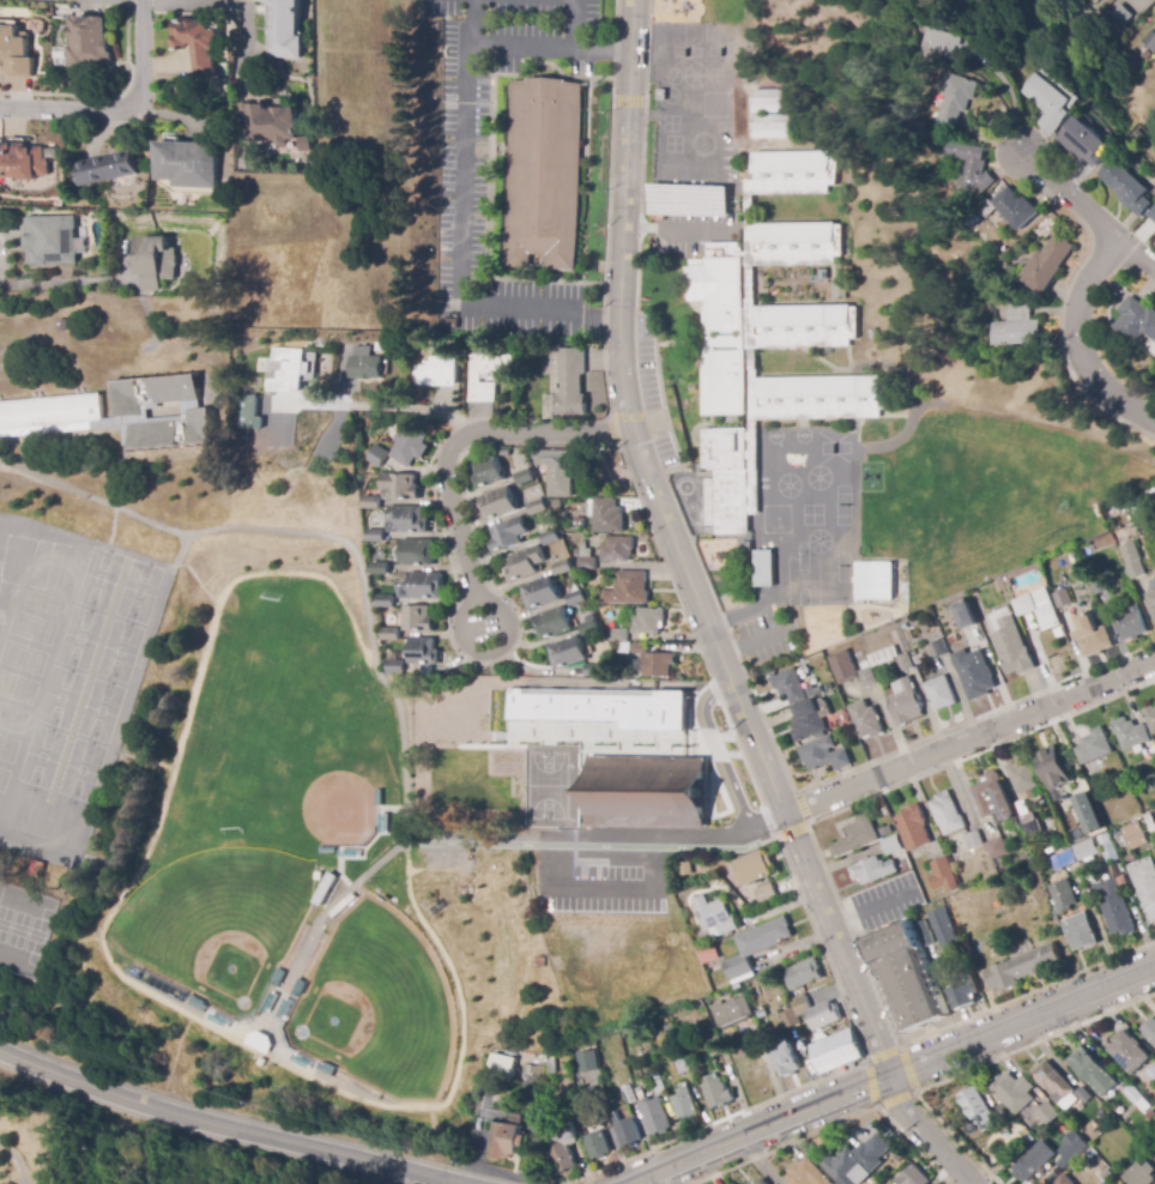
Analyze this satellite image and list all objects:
road: (216, 1)
building: (1089, 1)
building: (1120, 14)
road: (572, 24)
building: (284, 29)
building: (196, 41)
building: (1149, 41)
building: (90, 43)
building: (937, 46)
road: (549, 48)
building: (14, 53)
building: (1154, 60)
building: (661, 95)
building: (954, 99)
building: (766, 101)
road: (628, 103)
building: (1050, 103)
road: (123, 111)
building: (270, 123)
building: (769, 125)
building: (1083, 141)
building: (22, 161)
building: (186, 163)
building: (970, 167)
building: (107, 168)
building: (540, 174)
building: (1125, 187)
building: (1015, 207)
building: (986, 209)
road: (1081, 209)
building: (658, 211)
building: (1153, 215)
road: (461, 232)
building: (50, 240)
building: (155, 261)
building: (1004, 262)
building: (1046, 265)
road: (65, 279)
building: (839, 289)
building: (1136, 320)
building: (447, 324)
building: (1014, 325)
building: (768, 337)
road: (1082, 338)
building: (363, 363)
building: (285, 370)
building: (436, 370)
building: (484, 374)
building: (563, 382)
road: (386, 405)
road: (663, 406)
building: (117, 413)
building: (248, 413)
road: (655, 415)
road: (625, 416)
road: (611, 431)
road: (458, 435)
building: (409, 446)
building: (504, 453)
building: (375, 457)
building: (556, 471)
building: (486, 473)
building: (524, 476)
building: (398, 487)
building: (1130, 502)
building: (370, 503)
building: (497, 505)
building: (556, 505)
building: (537, 507)
building: (604, 515)
building: (407, 519)
building: (574, 530)
building: (507, 534)
building: (375, 536)
building: (549, 537)
building: (1118, 540)
building: (746, 546)
building: (616, 549)
building: (416, 552)
road: (678, 552)
building: (583, 558)
building: (1131, 561)
building: (522, 563)
building: (562, 568)
building: (763, 568)
building: (380, 569)
building: (873, 580)
building: (1097, 585)
building: (424, 586)
building: (628, 590)
building: (539, 593)
building: (574, 598)
building: (1063, 599)
road: (485, 600)
building: (1034, 600)
building: (1151, 600)
building: (386, 602)
building: (964, 614)
building: (416, 618)
building: (647, 621)
building: (551, 623)
building: (903, 624)
building: (587, 627)
building: (1130, 627)
building: (973, 630)
building: (391, 635)
building: (617, 635)
building: (908, 636)
building: (1091, 636)
road: (752, 640)
building: (955, 641)
building: (939, 647)
building: (1012, 648)
building: (422, 652)
building: (567, 653)
road: (456, 656)
building: (890, 659)
building: (653, 662)
building: (395, 667)
building: (842, 667)
building: (594, 671)
building: (866, 675)
building: (976, 677)
building: (791, 687)
building: (939, 693)
road: (706, 701)
building: (905, 702)
building: (598, 709)
building: (810, 719)
building: (1150, 719)
building: (867, 724)
building: (1131, 735)
road: (969, 736)
building: (1093, 747)
road: (980, 751)
building: (823, 755)
building: (1052, 767)
building: (1075, 777)
building: (1021, 778)
building: (1150, 783)
building: (1103, 786)
building: (646, 791)
building: (992, 798)
park: (334, 804)
road: (799, 808)
building: (947, 814)
building: (1090, 816)
building: (1023, 820)
road: (767, 822)
building: (1149, 823)
building: (911, 828)
building: (1132, 828)
road: (790, 829)
building: (884, 830)
building: (855, 835)
road: (705, 839)
building: (1136, 839)
building: (973, 840)
building: (891, 845)
building: (996, 848)
building: (1094, 848)
building: (1129, 858)
park: (285, 859)
building: (1062, 860)
building: (684, 868)
building: (754, 868)
building: (872, 870)
building: (943, 876)
building: (1144, 886)
building: (766, 893)
building: (1063, 896)
building: (1111, 905)
building: (714, 917)
building: (941, 925)
road: (857, 932)
building: (1080, 932)
building: (755, 946)
road: (820, 949)
building: (996, 952)
building: (707, 954)
park: (220, 955)
building: (539, 962)
building: (1022, 968)
building: (907, 971)
building: (803, 974)
road: (1026, 992)
building: (964, 993)
building: (731, 1011)
building: (816, 1013)
building: (761, 1014)
park: (322, 1017)
building: (788, 1019)
building: (671, 1032)
building: (1150, 1032)
building: (715, 1035)
building: (259, 1040)
road: (1035, 1041)
building: (715, 1047)
building: (833, 1051)
building: (1130, 1052)
building: (785, 1058)
building: (679, 1062)
building: (587, 1063)
building: (501, 1064)
building: (552, 1065)
building: (1091, 1071)
road: (893, 1073)
building: (1151, 1073)
building: (1053, 1080)
building: (657, 1083)
building: (1014, 1092)
building: (716, 1093)
road: (911, 1093)
building: (1082, 1094)
building: (1133, 1094)
building: (628, 1097)
building: (1144, 1105)
building: (684, 1106)
building: (536, 1110)
building: (979, 1110)
building: (1118, 1113)
building: (1046, 1114)
building: (1149, 1114)
building: (654, 1116)
building: (601, 1120)
road: (218, 1123)
building: (1094, 1124)
building: (625, 1131)
road: (926, 1132)
building: (1028, 1138)
building: (504, 1141)
building: (595, 1144)
building: (561, 1147)
building: (1071, 1149)
building: (1091, 1153)
road: (17, 1160)
building: (855, 1161)
building: (1034, 1161)
building: (1143, 1171)
road: (356, 1172)
building: (804, 1173)
building: (913, 1177)
building: (1063, 1180)
building: (762, 1182)

